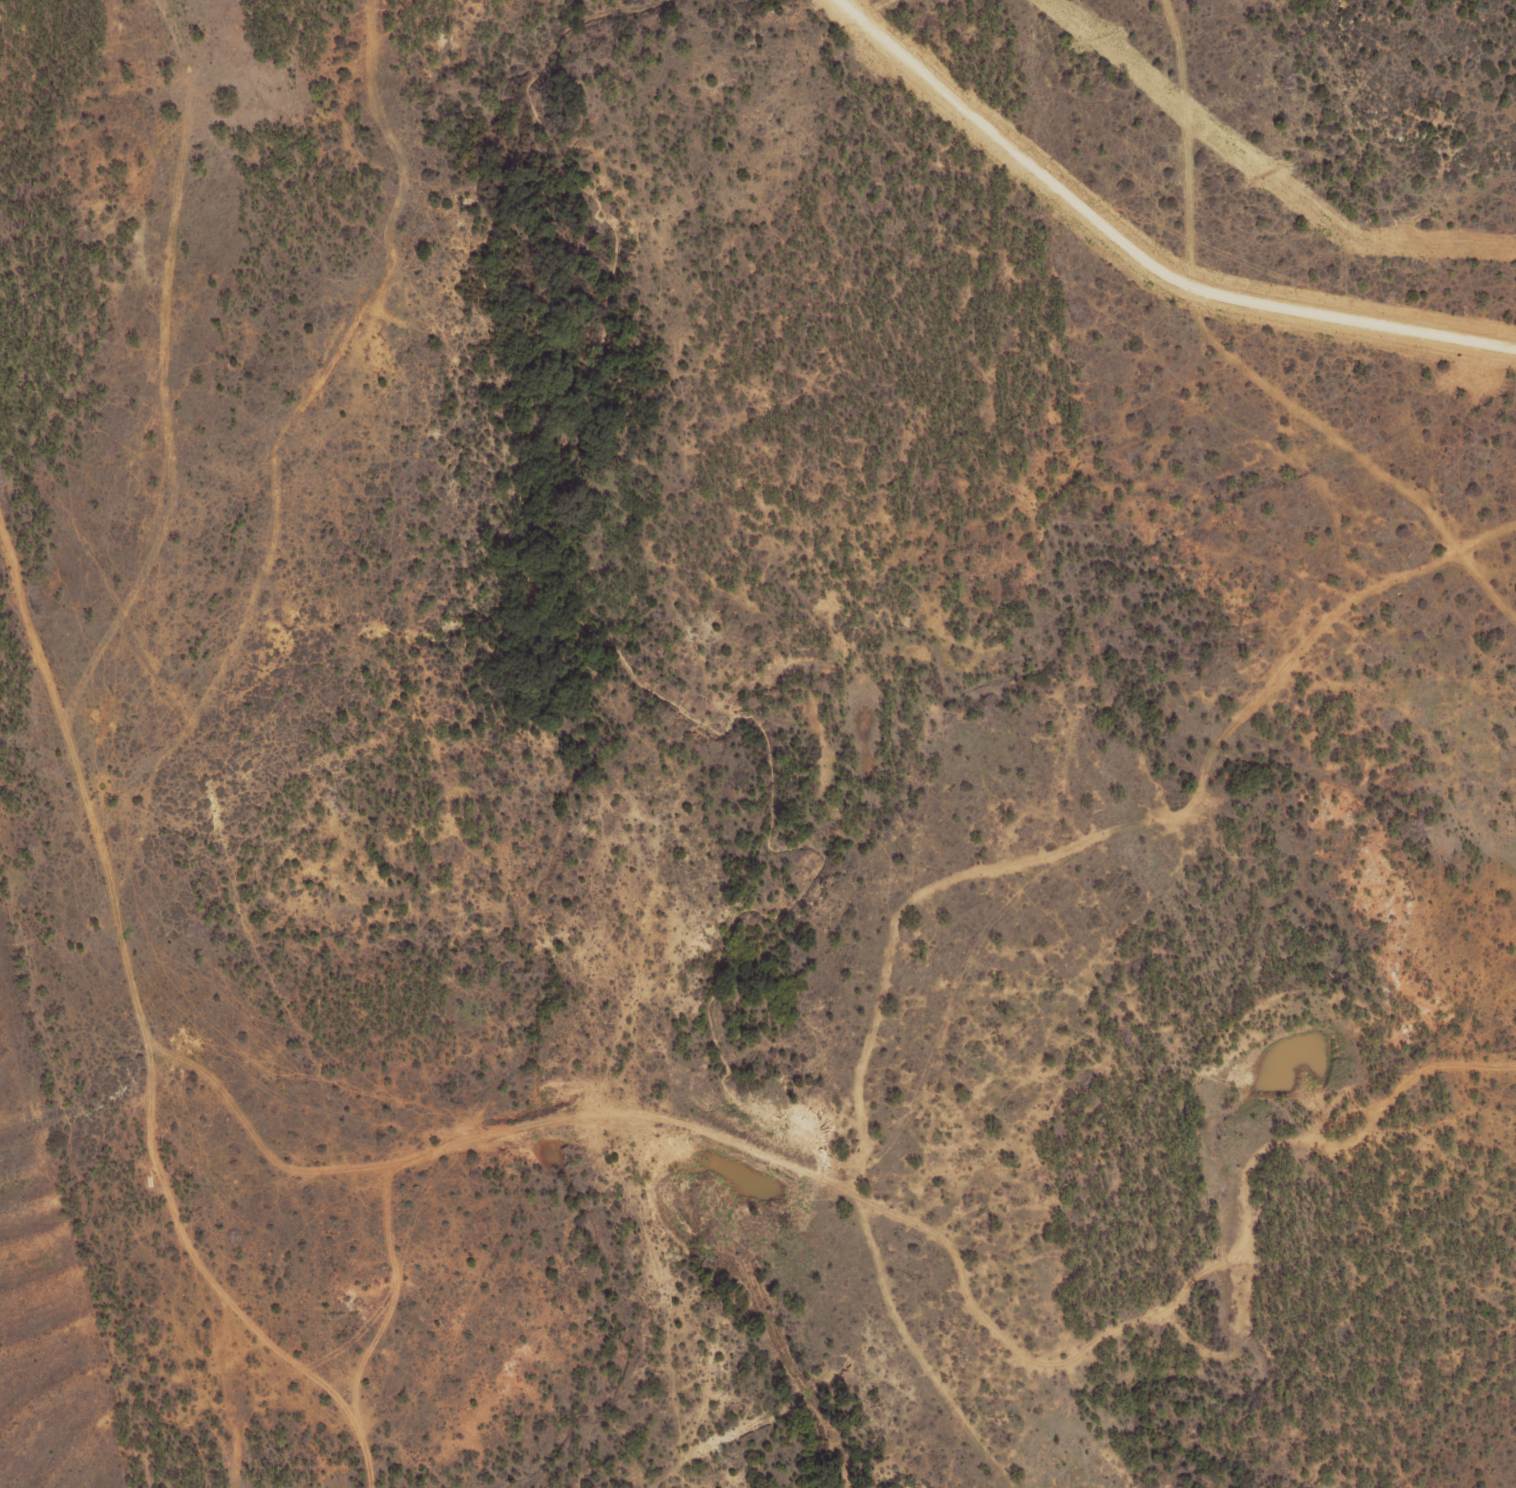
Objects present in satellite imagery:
road: (1137, 254)
road: (872, 558)
road: (240, 947)
road: (1123, 1045)

